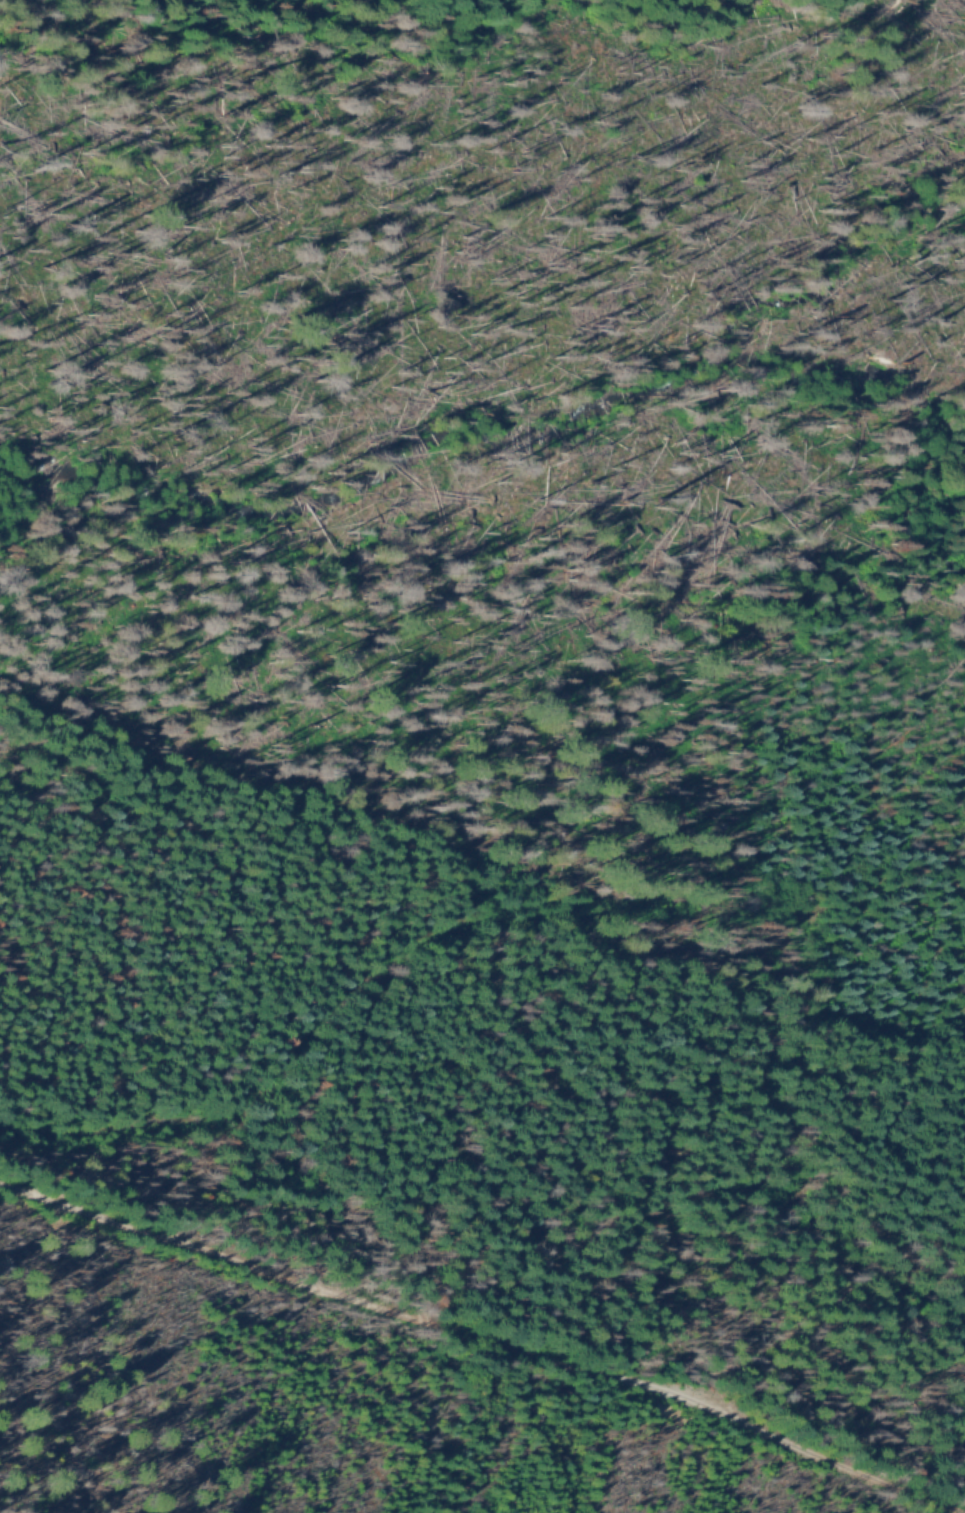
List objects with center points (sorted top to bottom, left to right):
road: (485, 1344)

